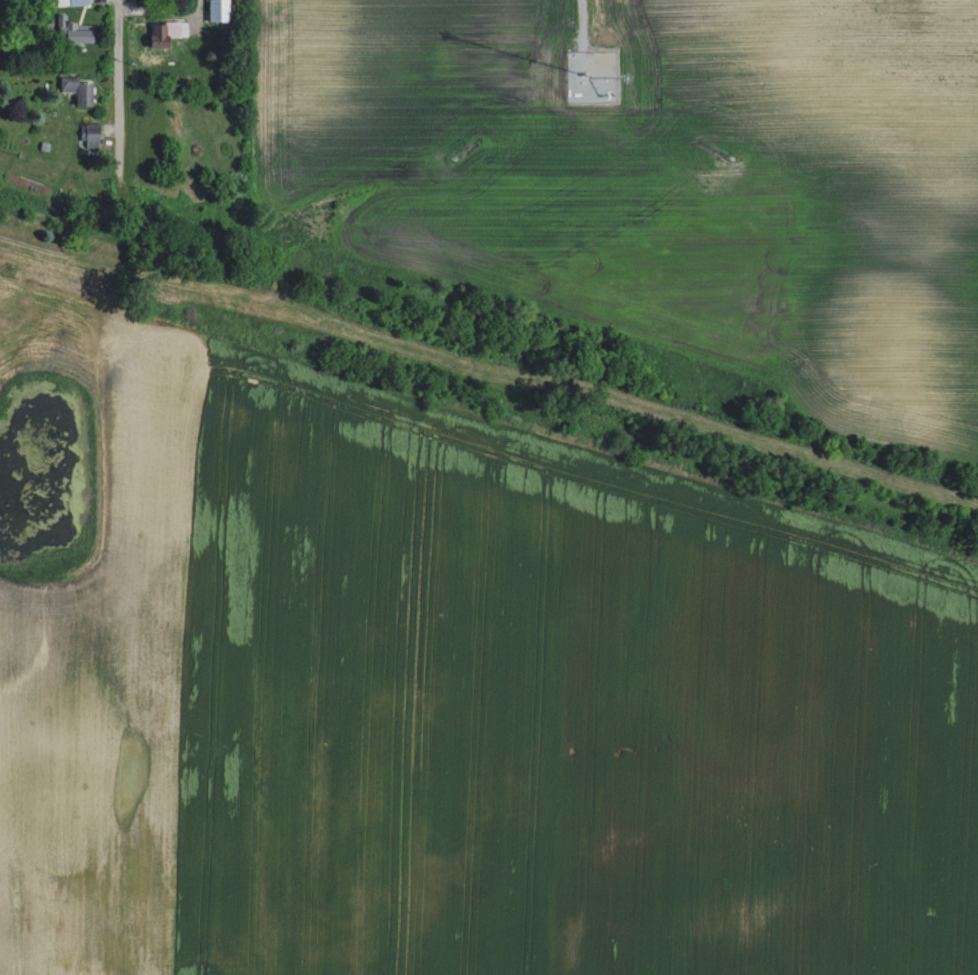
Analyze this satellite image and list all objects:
building: (73, 3)
building: (220, 11)
building: (76, 31)
building: (168, 34)
road: (119, 89)
building: (78, 91)
building: (90, 135)

